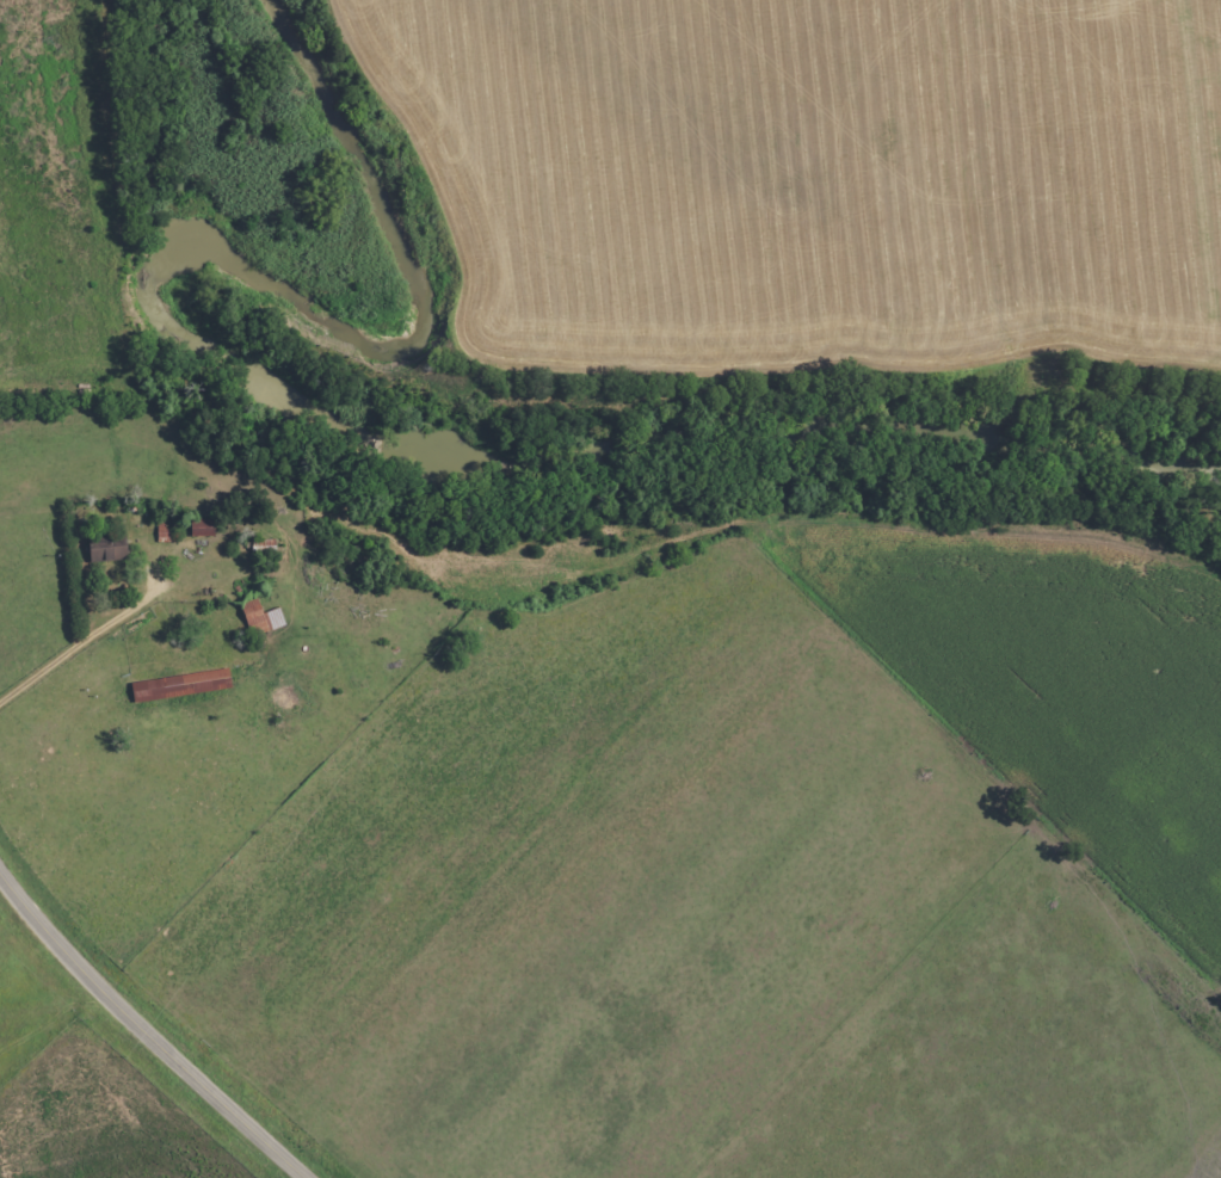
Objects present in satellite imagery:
building: (196, 528)
building: (101, 547)
building: (257, 618)
building: (177, 685)
road: (143, 1031)

